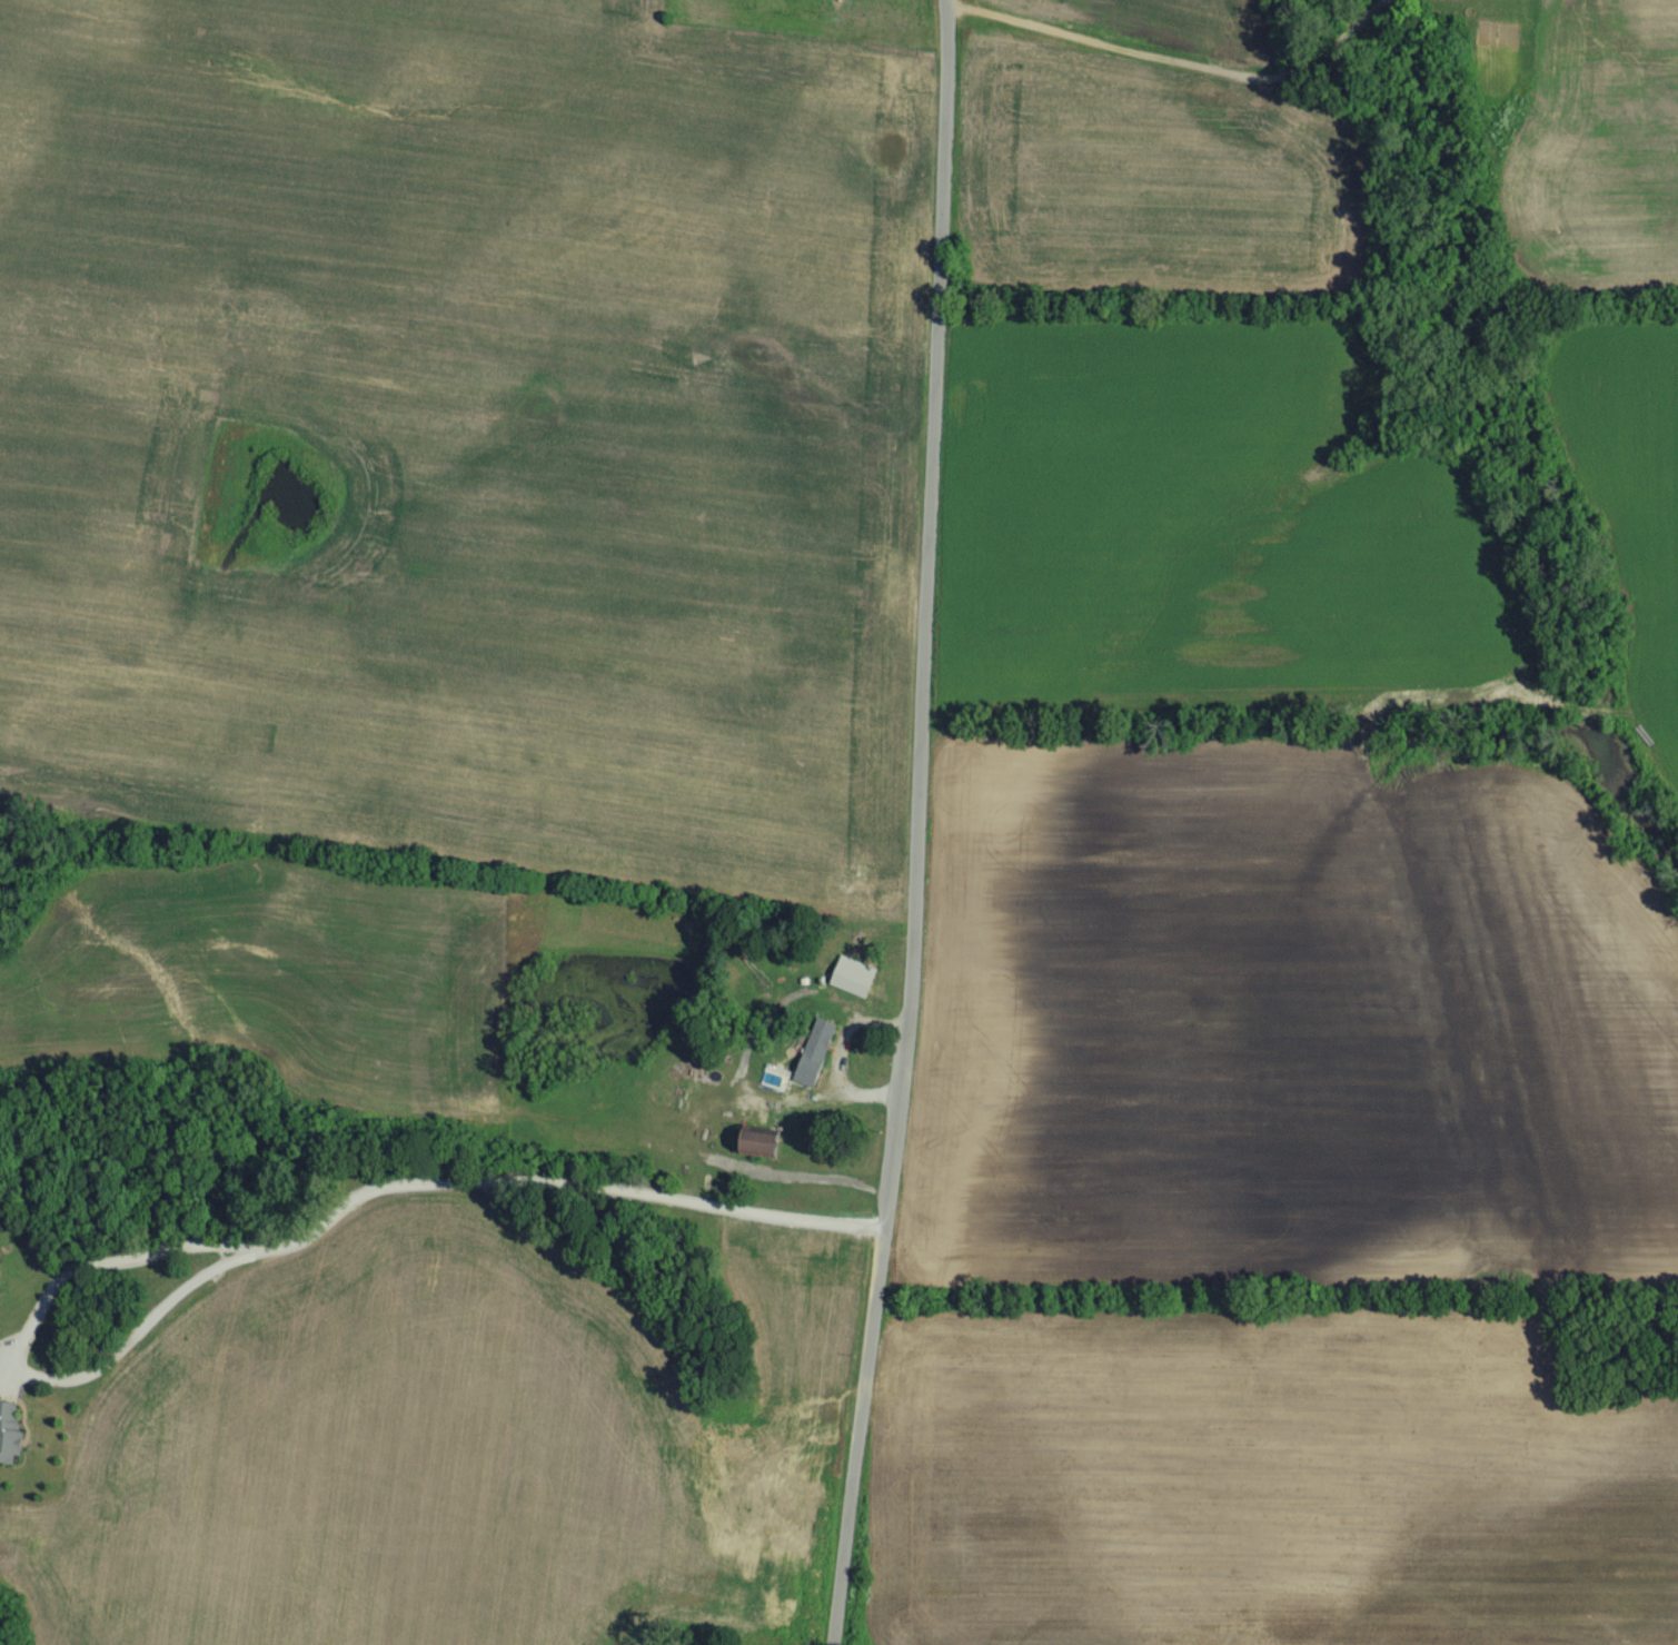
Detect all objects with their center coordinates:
road: (1176, 67)
road: (916, 823)
building: (817, 1062)
building: (765, 1155)
road: (285, 1247)
building: (10, 1441)

